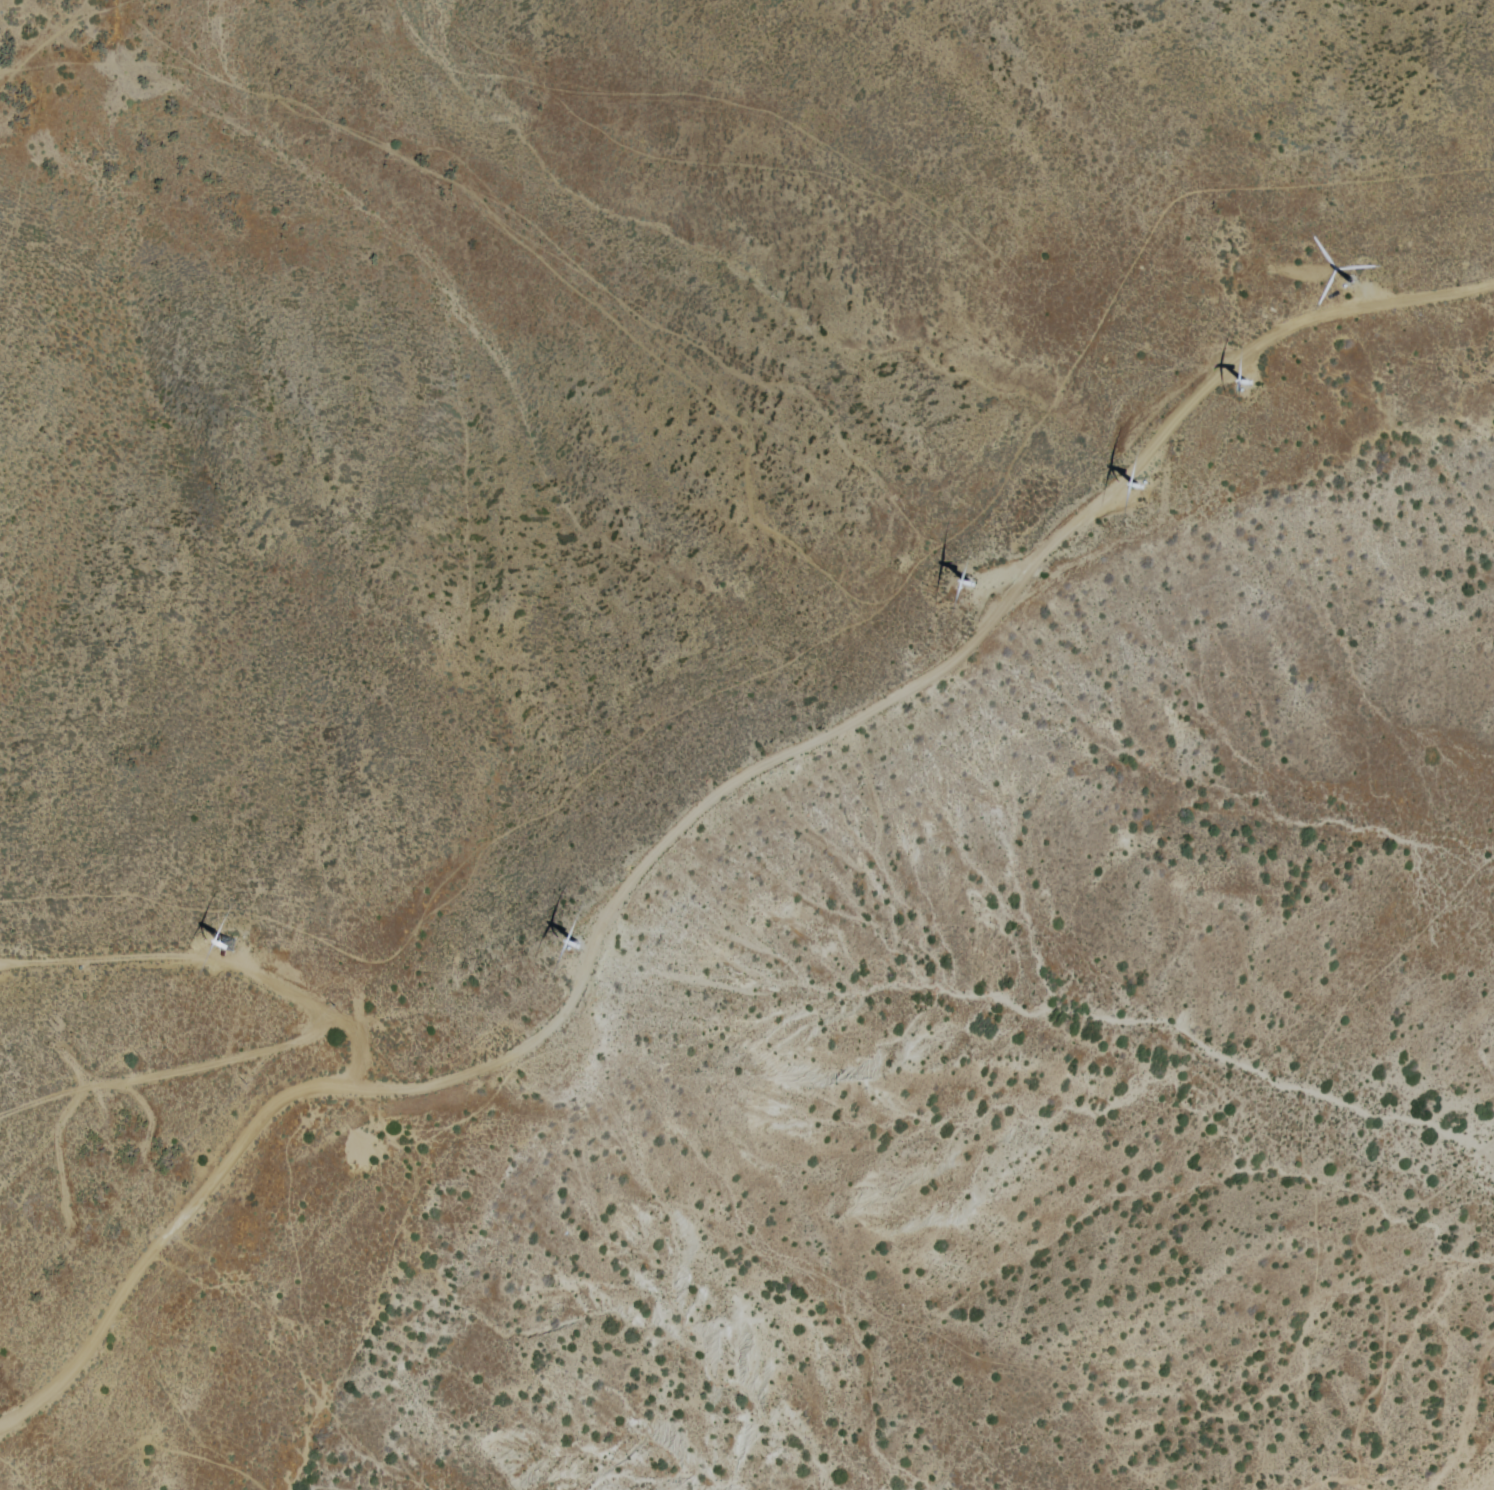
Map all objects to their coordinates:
wind turbine: (1345, 272)
wind turbine: (1247, 382)
wind turbine: (1135, 477)
wind turbine: (977, 577)
wind turbine: (228, 945)
wind turbine: (566, 947)

